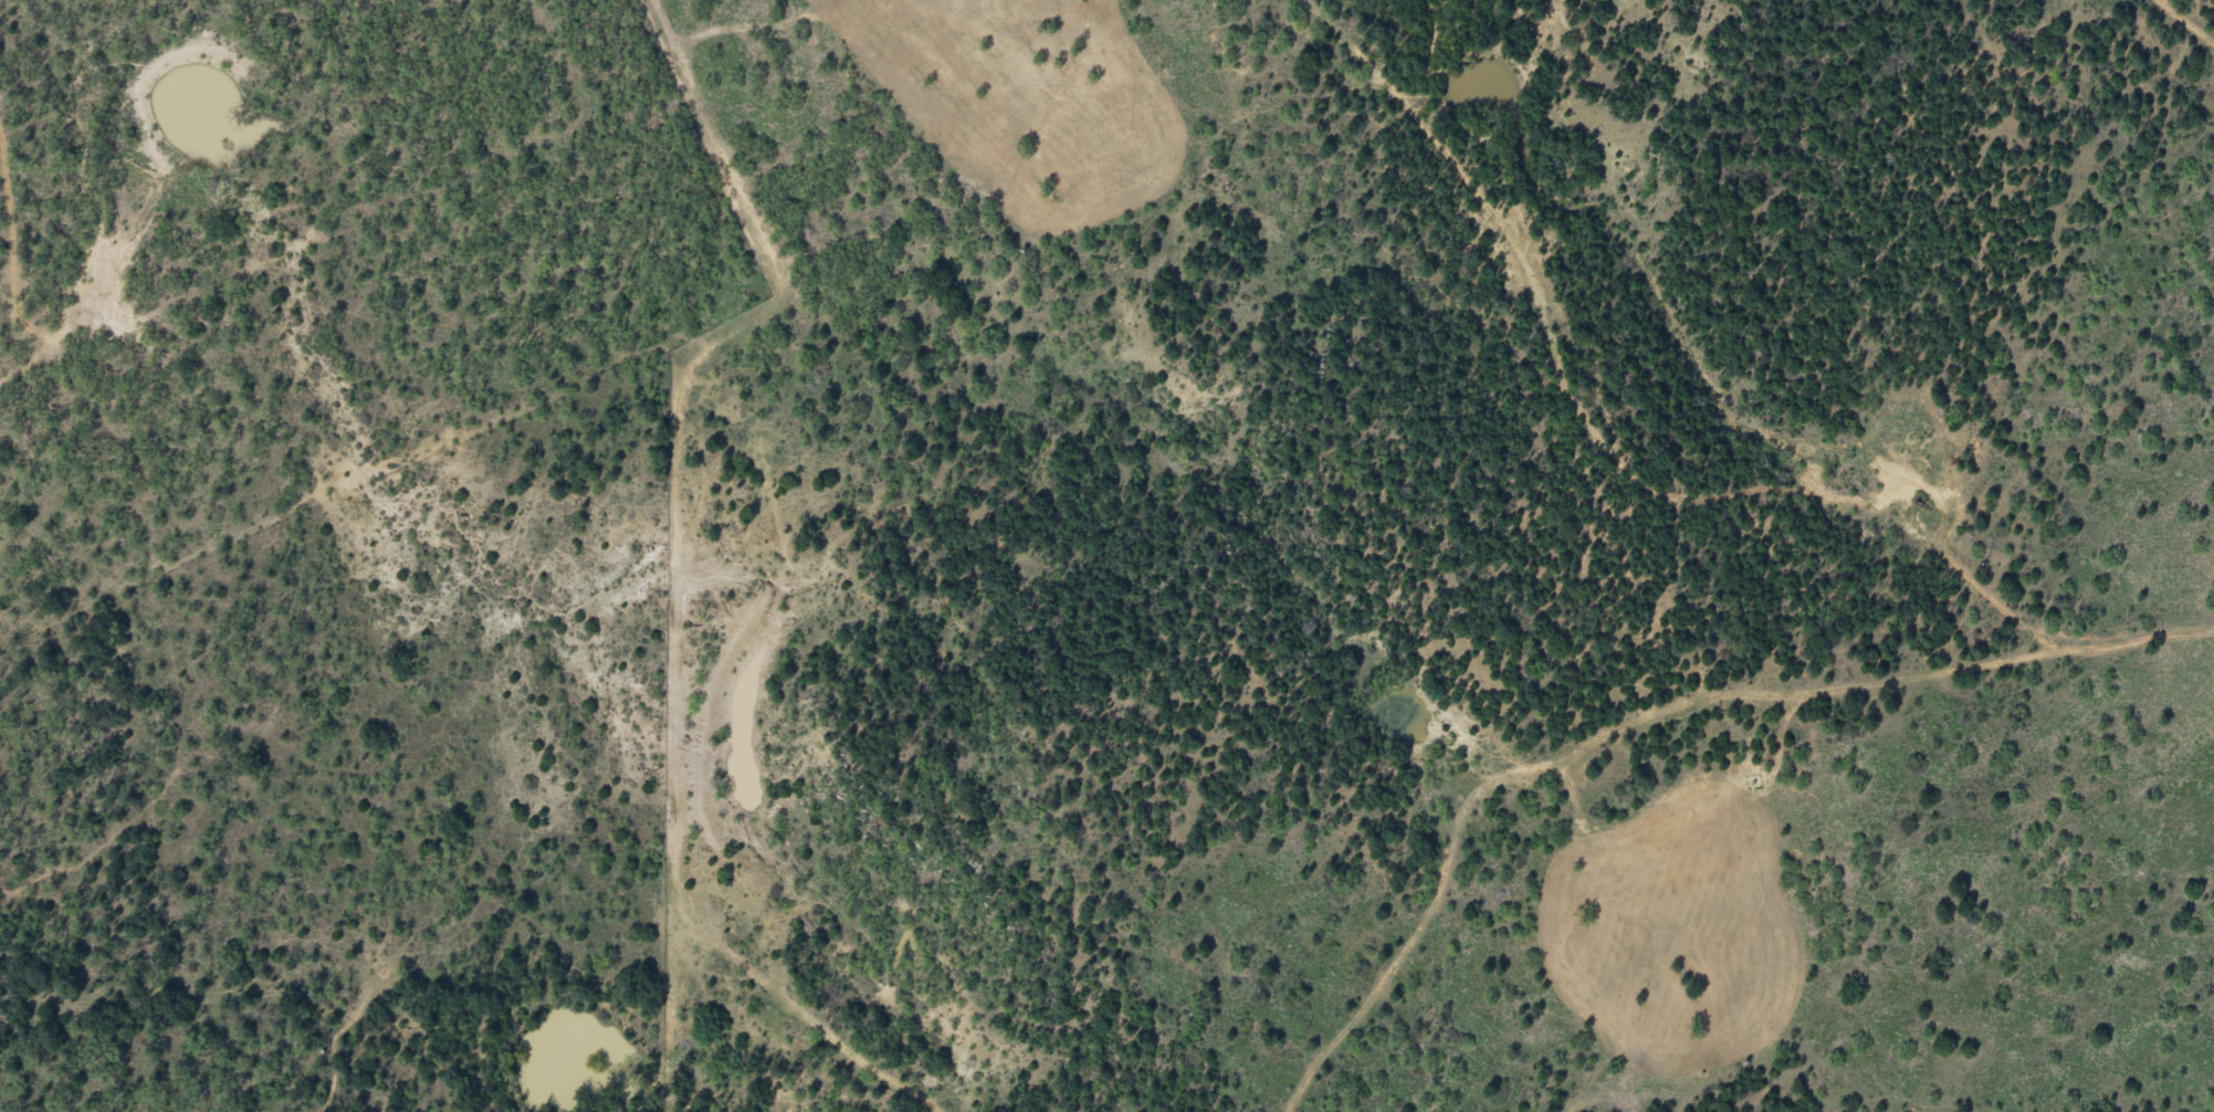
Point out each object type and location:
road: (171, 587)

